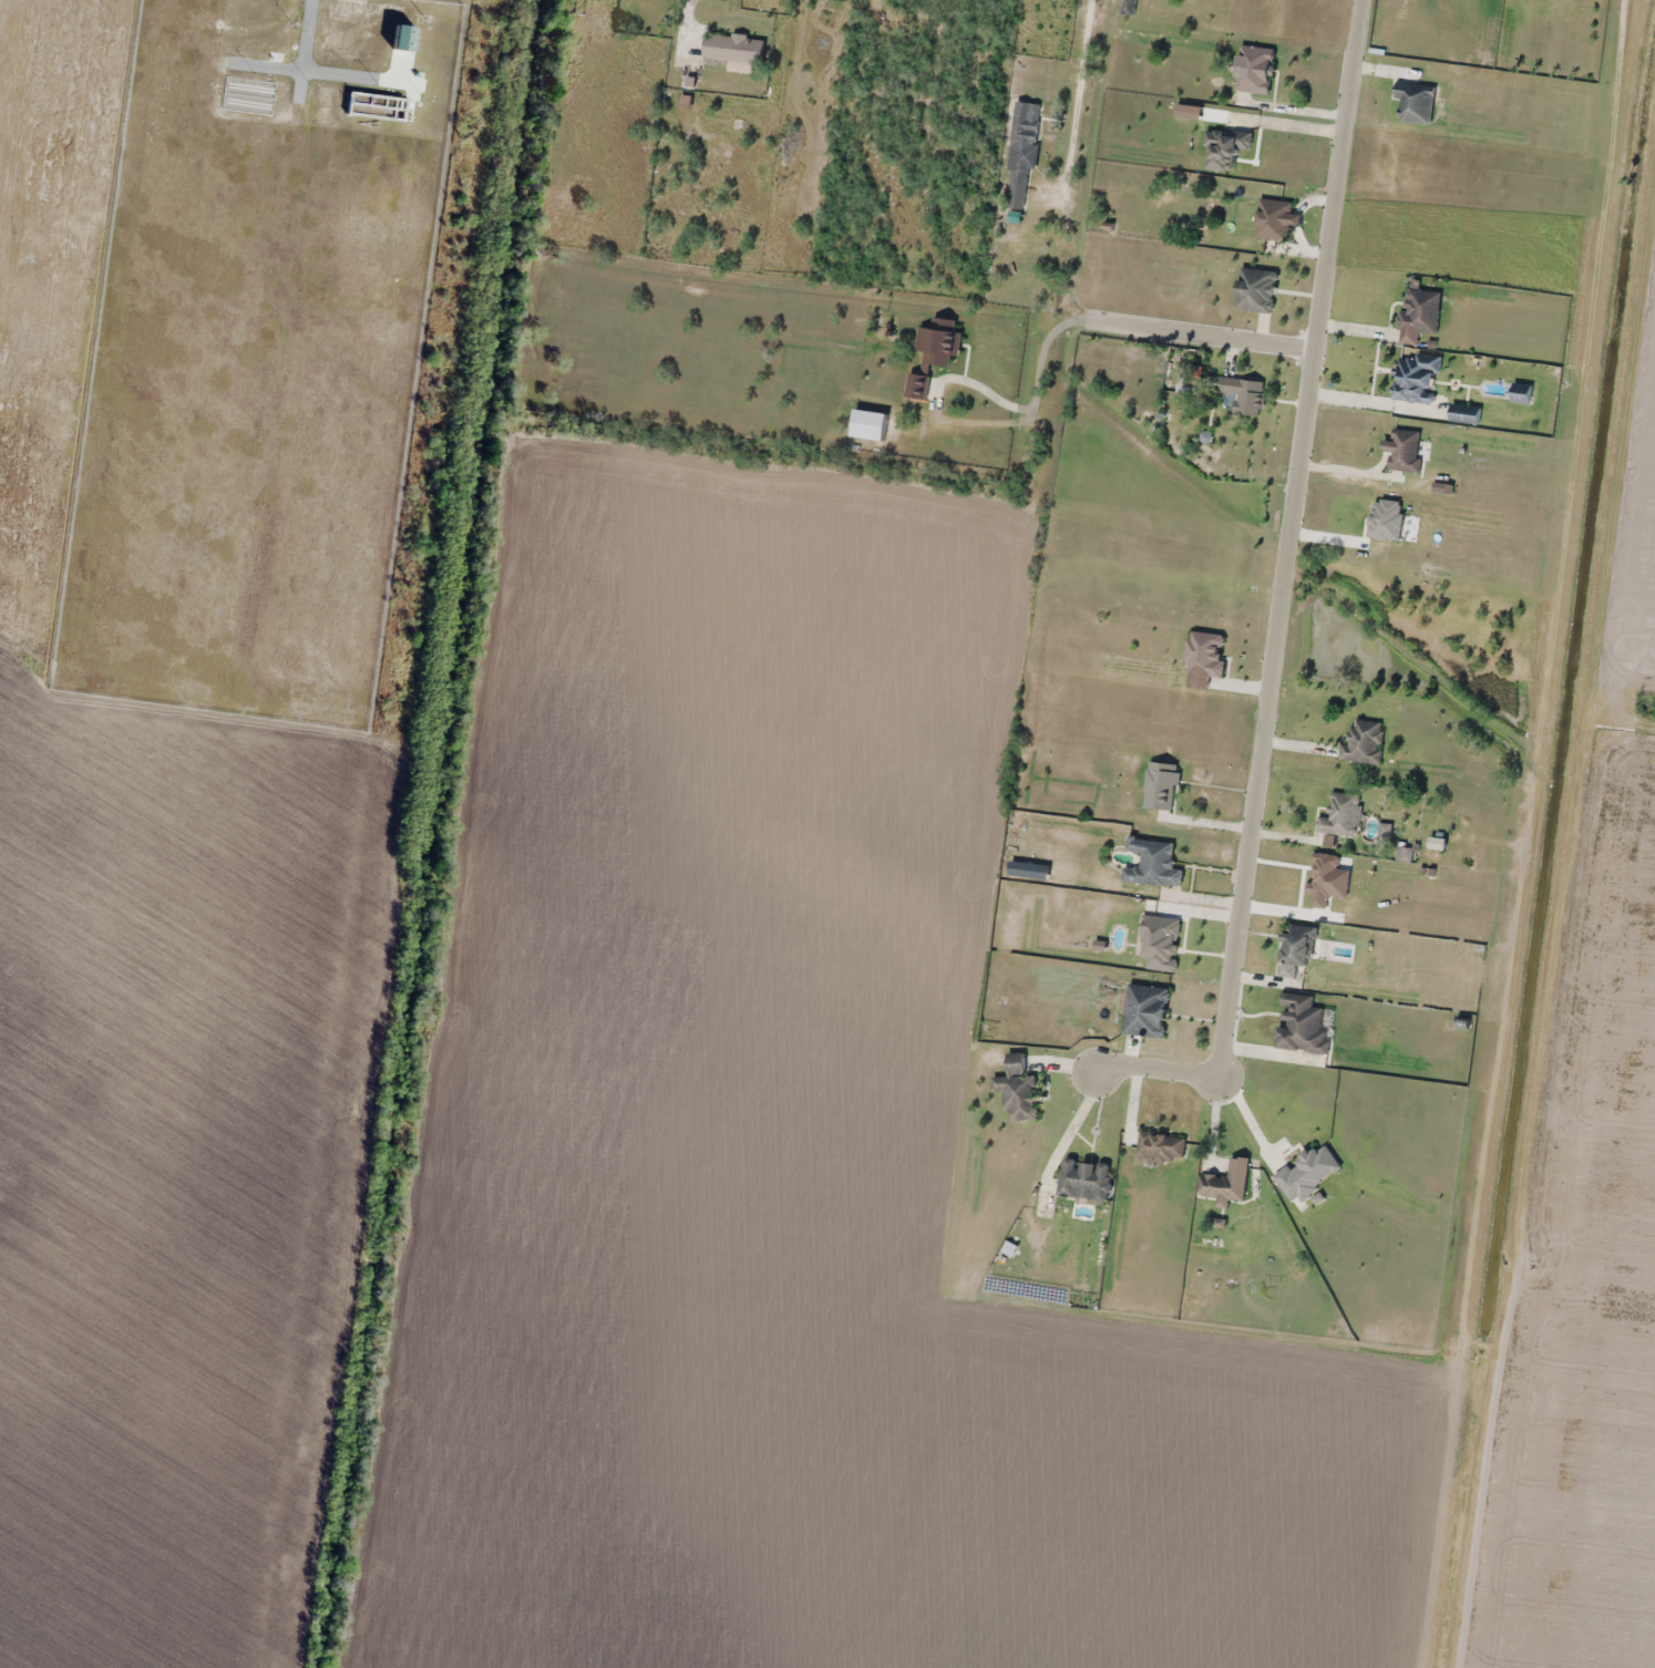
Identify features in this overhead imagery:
building: (734, 47)
building: (1256, 69)
road: (1079, 86)
building: (1416, 102)
building: (1024, 150)
building: (1276, 218)
building: (1257, 289)
building: (1421, 310)
road: (1201, 334)
building: (933, 354)
building: (1416, 375)
building: (1189, 383)
building: (1522, 392)
building: (1245, 394)
building: (1466, 414)
building: (1405, 450)
road: (1283, 601)
building: (1206, 651)
building: (1364, 741)
building: (1162, 784)
building: (1342, 814)
building: (1153, 862)
building: (1296, 947)
building: (1147, 1009)
building: (1302, 1023)
building: (1019, 1088)
building: (1160, 1147)
building: (1086, 1178)
building: (1226, 1182)

